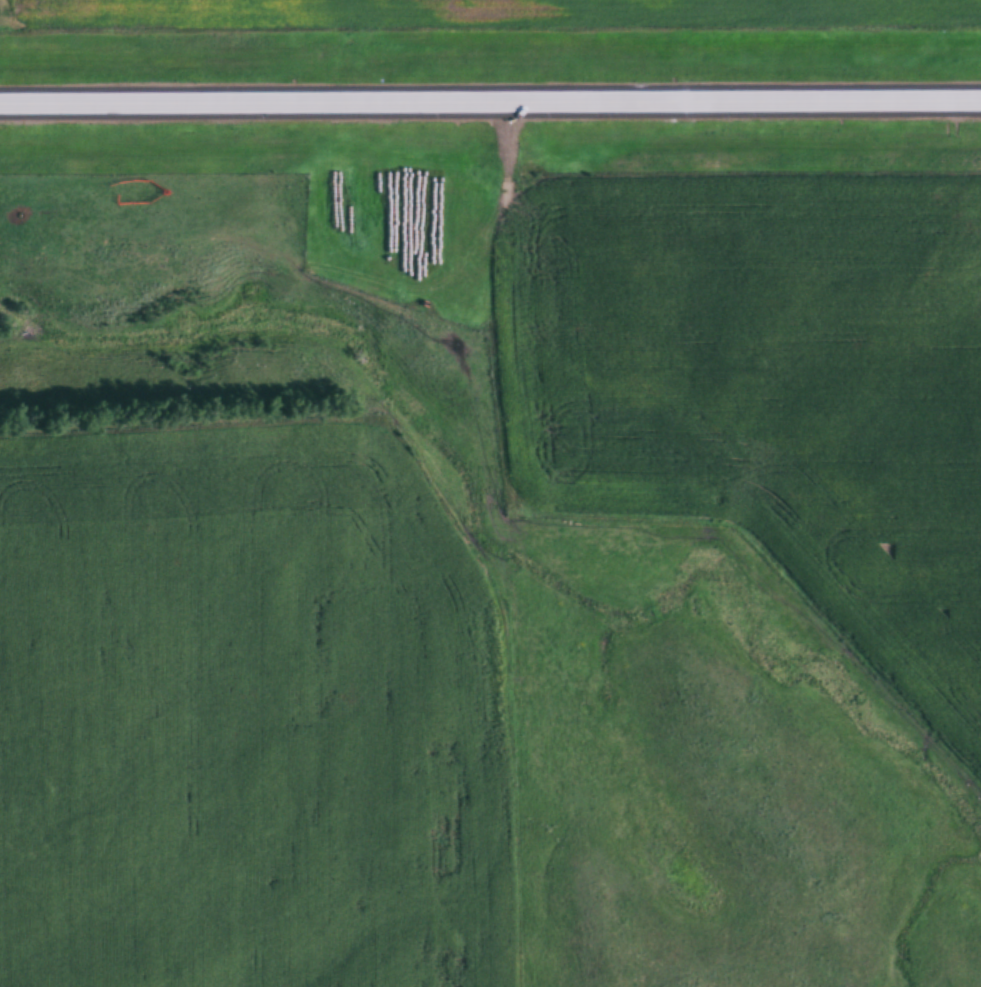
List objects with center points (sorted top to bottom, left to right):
road: (490, 99)

